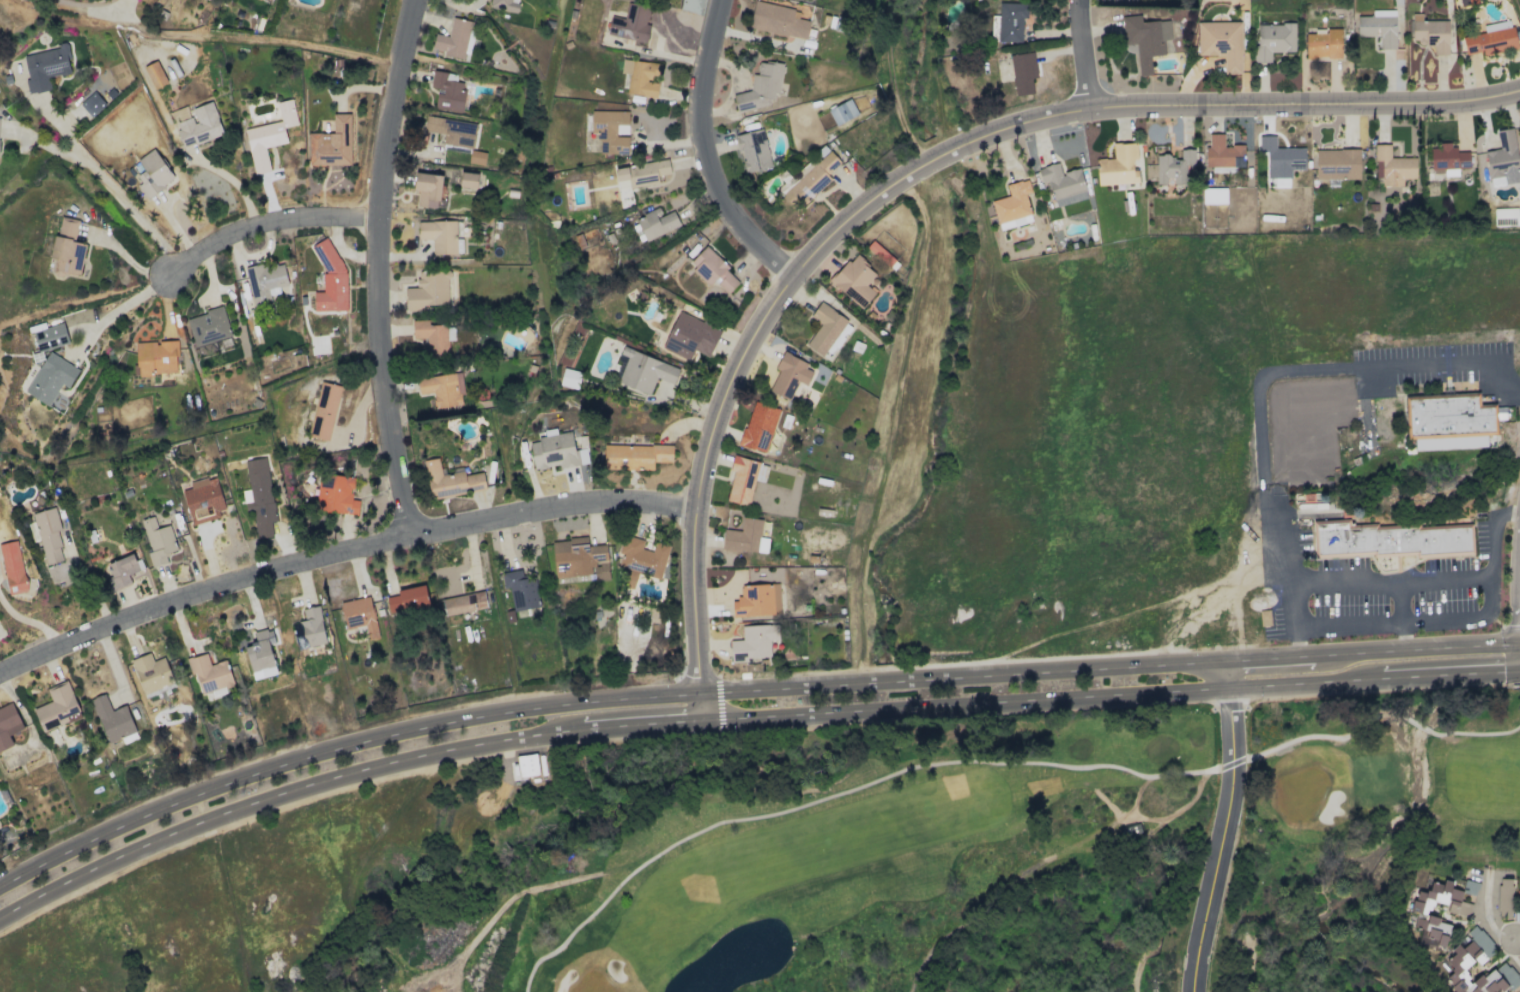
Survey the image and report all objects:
building: (209, 0)
building: (267, 0)
building: (1467, 2)
building: (1241, 4)
building: (504, 5)
building: (778, 20)
building: (1010, 21)
building: (630, 24)
building: (1379, 27)
building: (1430, 33)
road: (258, 37)
building: (453, 39)
building: (1145, 39)
building: (1491, 39)
building: (1273, 40)
building: (1221, 43)
building: (1324, 44)
road: (1080, 54)
building: (45, 66)
building: (1023, 72)
building: (155, 74)
building: (640, 77)
road: (551, 79)
building: (760, 87)
building: (447, 91)
building: (92, 103)
building: (842, 111)
building: (452, 130)
building: (610, 131)
building: (269, 136)
building: (331, 143)
building: (753, 150)
road: (43, 151)
road: (703, 153)
building: (1222, 153)
building: (476, 157)
building: (1280, 158)
building: (1503, 158)
building: (1448, 159)
building: (1337, 164)
road: (922, 165)
building: (1118, 166)
building: (1392, 166)
building: (1174, 167)
building: (152, 173)
building: (640, 174)
building: (811, 178)
building: (471, 180)
road: (100, 183)
building: (1063, 183)
road: (218, 185)
building: (427, 189)
building: (1214, 195)
building: (1012, 205)
building: (1505, 212)
road: (269, 222)
building: (653, 224)
building: (439, 235)
building: (67, 248)
road: (375, 265)
building: (713, 269)
building: (329, 278)
building: (855, 280)
building: (265, 281)
building: (428, 291)
road: (114, 304)
building: (208, 326)
building: (825, 328)
building: (690, 336)
building: (50, 337)
building: (431, 337)
building: (157, 357)
road: (1287, 368)
building: (644, 371)
building: (789, 375)
building: (50, 378)
building: (570, 378)
building: (441, 388)
building: (324, 410)
building: (1450, 421)
building: (758, 427)
building: (556, 450)
building: (635, 456)
building: (744, 478)
building: (450, 480)
building: (259, 496)
building: (337, 496)
building: (203, 500)
building: (47, 534)
building: (745, 537)
building: (1386, 539)
building: (158, 541)
road: (337, 549)
building: (641, 557)
building: (579, 558)
building: (13, 568)
building: (123, 569)
road: (1400, 576)
road: (1516, 584)
building: (520, 590)
building: (407, 599)
building: (757, 600)
building: (464, 603)
road: (1401, 611)
building: (360, 615)
building: (1264, 617)
road: (1407, 617)
road: (29, 618)
building: (309, 629)
building: (754, 642)
building: (260, 656)
road: (1110, 662)
building: (151, 673)
building: (209, 674)
road: (1112, 694)
road: (702, 703)
building: (57, 707)
road: (1379, 715)
building: (113, 720)
building: (8, 724)
road: (338, 744)
building: (527, 765)
road: (339, 776)
road: (838, 793)
road: (1225, 824)
park: (1062, 847)
building: (1504, 898)
building: (1422, 914)
road: (1481, 916)
road: (1517, 940)
road: (1146, 954)
building: (1465, 957)
road: (1245, 958)

